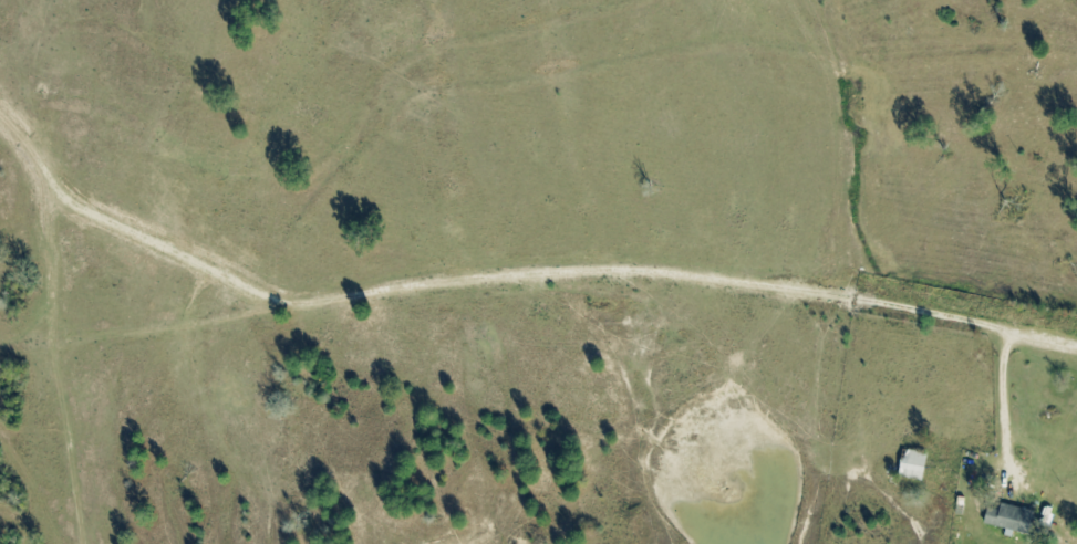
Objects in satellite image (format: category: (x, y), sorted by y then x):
road: (506, 280)
building: (918, 467)
building: (1016, 521)

